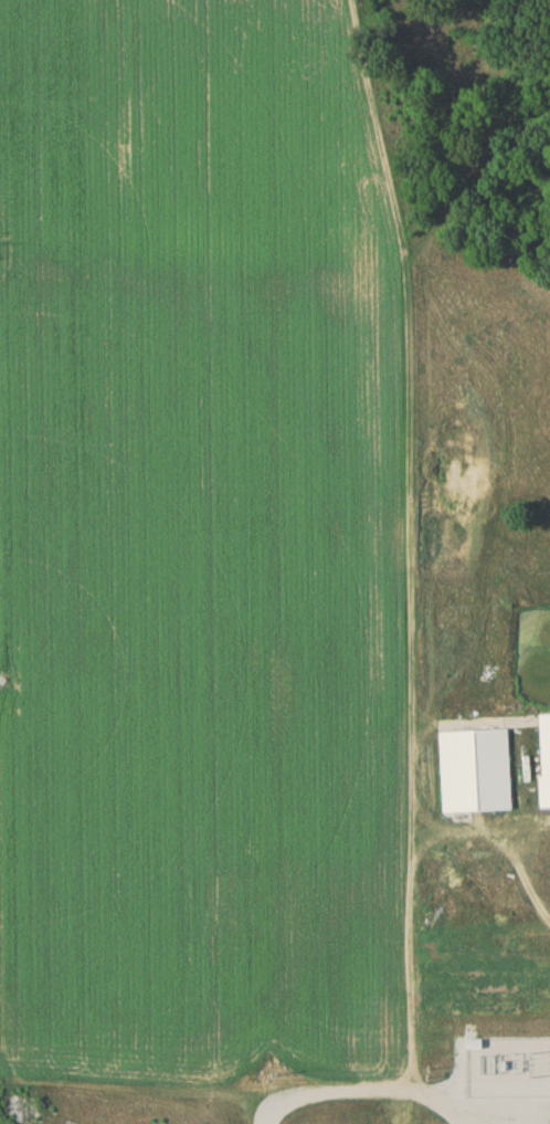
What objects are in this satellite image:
building: (546, 765)
building: (477, 776)
building: (501, 917)
building: (473, 1046)
power substation: (507, 1069)
road: (359, 1093)
road: (507, 1099)
road: (446, 1102)

